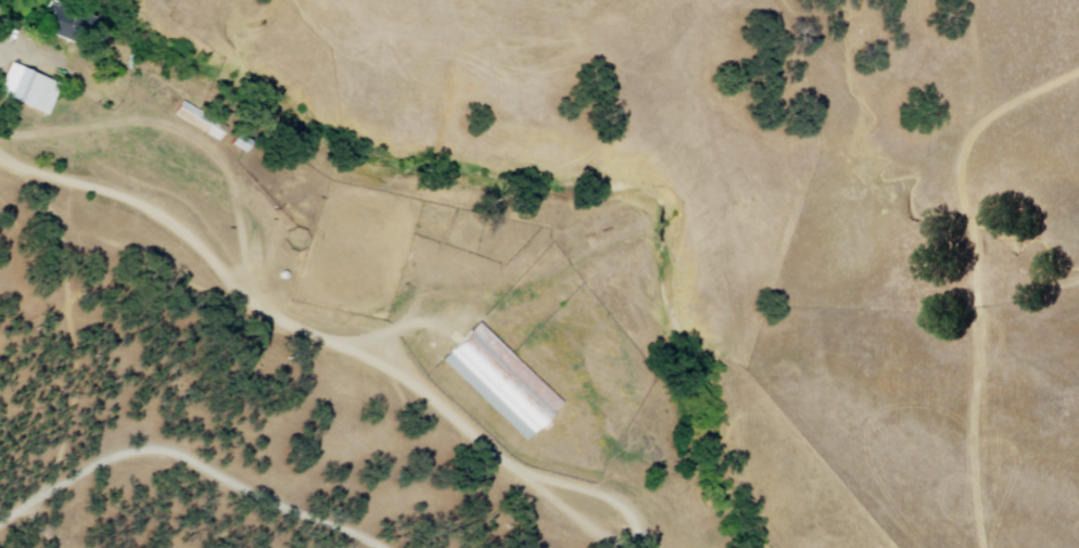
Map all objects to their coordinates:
road: (999, 58)
building: (29, 87)
building: (199, 120)
road: (183, 129)
road: (974, 273)
road: (331, 341)
building: (496, 379)
road: (190, 459)

